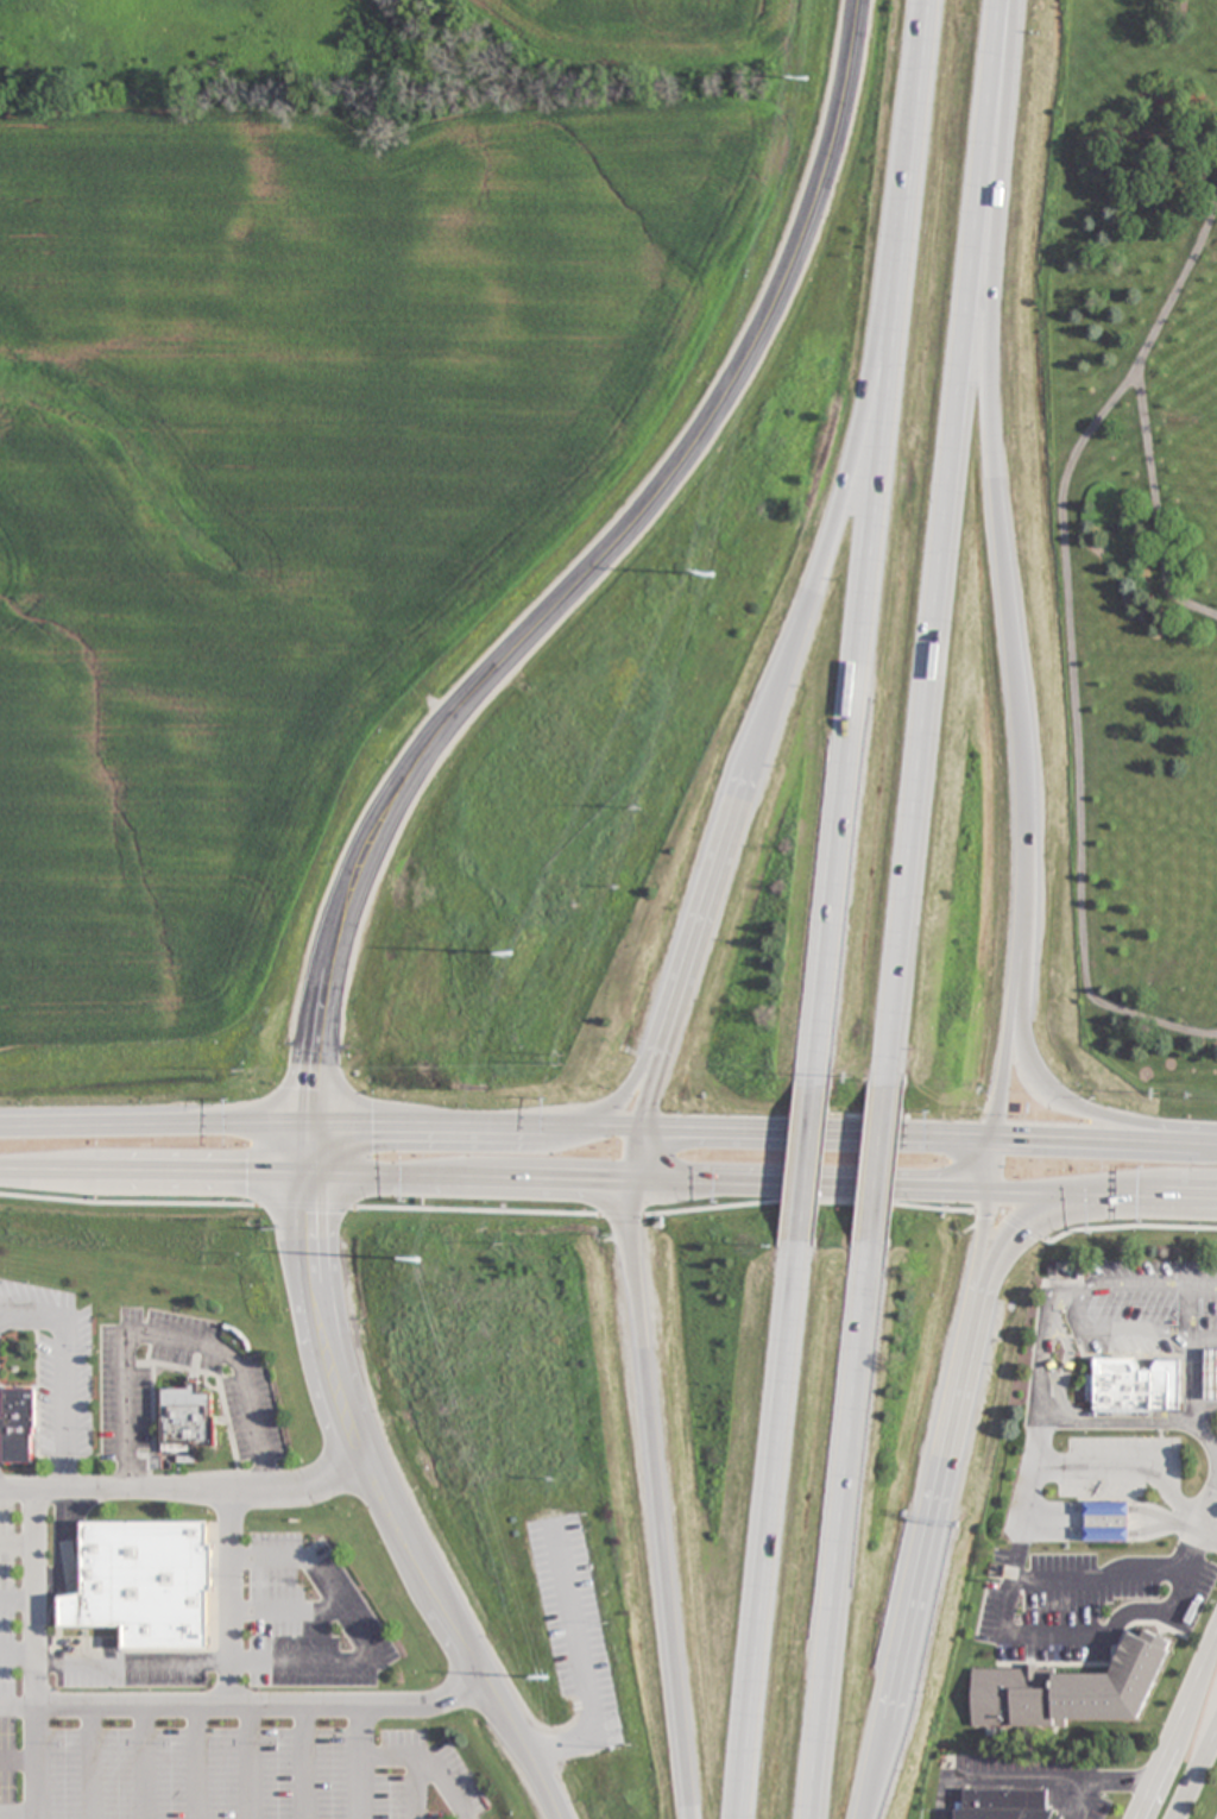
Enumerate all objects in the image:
road: (1141, 409)
crop: (327, 471)
road: (874, 543)
road: (950, 543)
road: (573, 585)
road: (811, 593)
road: (1011, 661)
power tower: (511, 952)
road: (654, 1077)
road: (631, 1081)
road: (1083, 1106)
traffic signals: (309, 1127)
road: (319, 1127)
traffic signals: (638, 1127)
road: (816, 1131)
traffic signals: (996, 1135)
road: (1106, 1138)
street lamp: (1020, 1159)
road: (994, 1162)
road: (811, 1164)
road: (879, 1164)
street lamp: (1180, 1164)
road: (152, 1171)
traffic signals: (307, 1172)
traffic signals: (629, 1179)
road: (649, 1179)
traffic signals: (991, 1189)
road: (1017, 1192)
road: (1131, 1198)
road: (984, 1239)
road: (1007, 1239)
power tower: (417, 1259)
road: (320, 1321)
road: (1115, 1329)
road: (67, 1370)
building: (1211, 1374)
building: (1135, 1385)
building: (187, 1421)
building: (25, 1428)
road: (657, 1472)
road: (18, 1491)
road: (202, 1491)
road: (1207, 1513)
building: (1106, 1521)
road: (771, 1529)
road: (843, 1530)
road: (931, 1554)
building: (156, 1584)
parking lot: (575, 1624)
road: (462, 1642)
road: (36, 1655)
road: (582, 1662)
building: (1091, 1693)
road: (245, 1710)
road: (1173, 1722)
road: (1194, 1770)
road: (1027, 1780)
road: (1099, 1782)
building: (1011, 1806)

